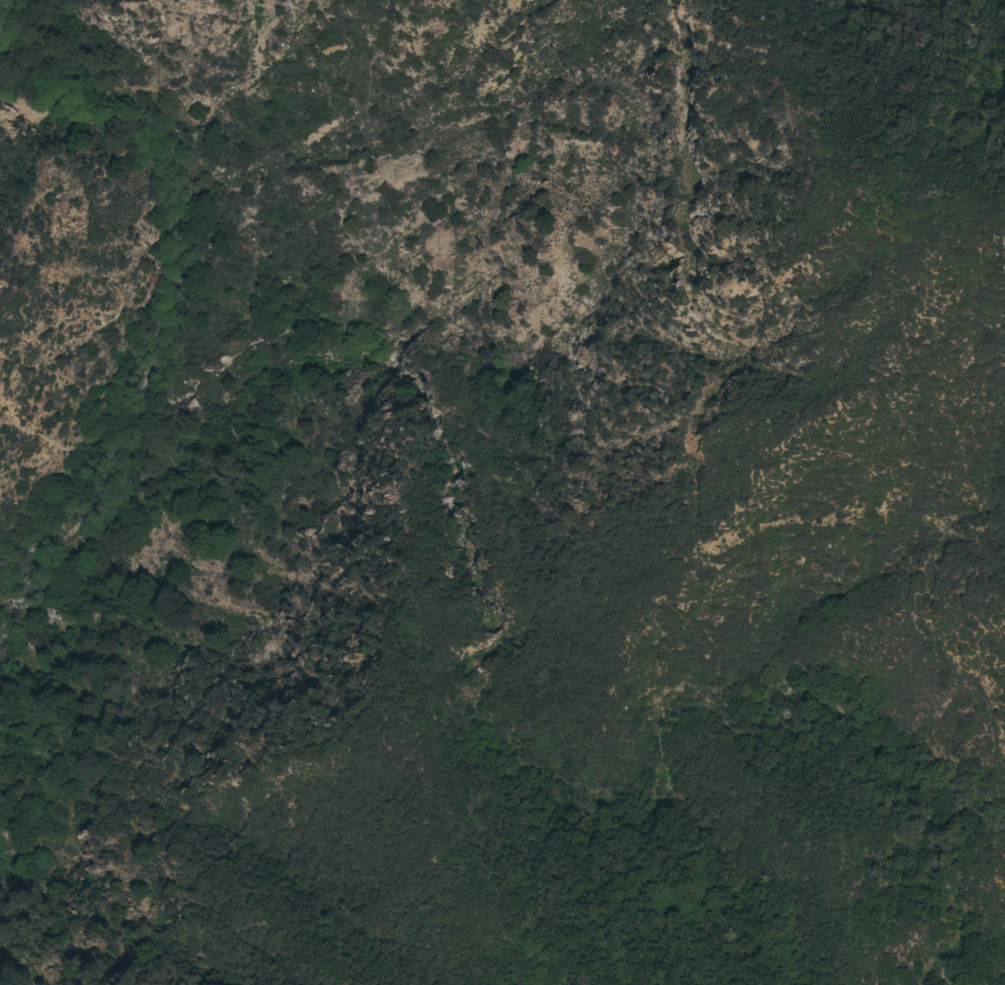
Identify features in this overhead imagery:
road: (693, 476)

